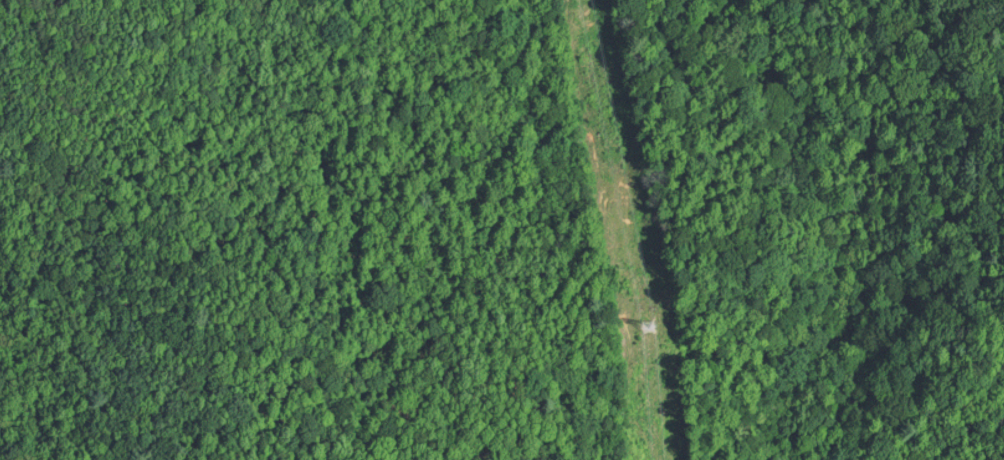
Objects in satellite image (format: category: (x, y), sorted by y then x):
power tower: (649, 328)

